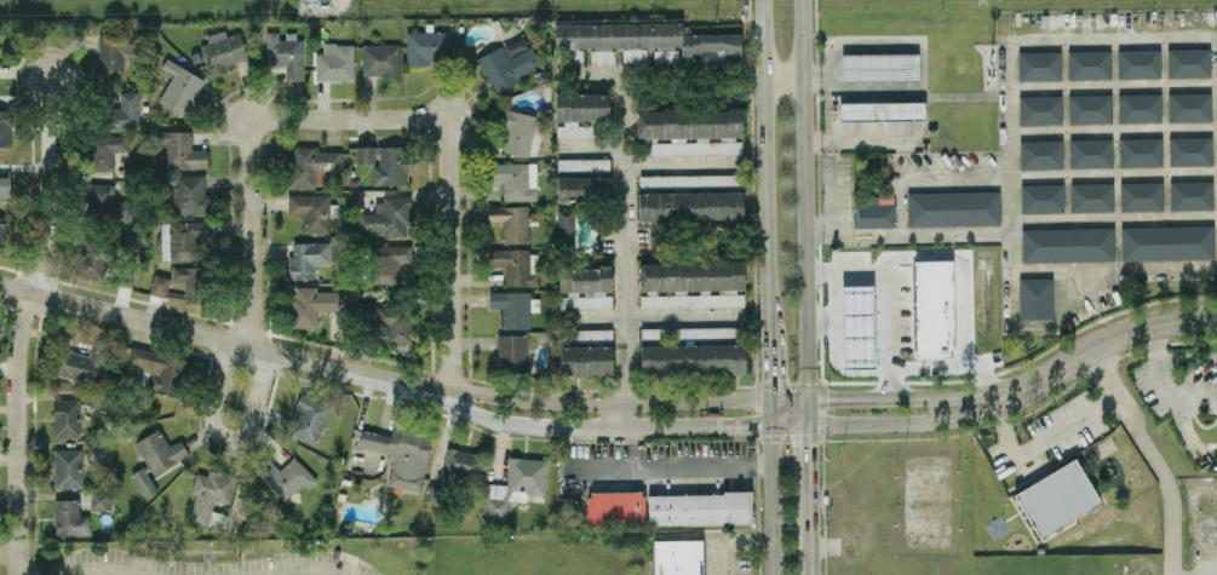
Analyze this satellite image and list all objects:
power tower: (983, 0)
power tower: (305, 1)
building: (648, 39)
building: (426, 46)
building: (116, 47)
building: (222, 50)
building: (286, 53)
building: (602, 56)
building: (380, 59)
building: (334, 62)
building: (507, 62)
building: (1188, 63)
building: (1137, 64)
building: (1037, 65)
building: (1090, 65)
building: (880, 67)
road: (659, 74)
road: (781, 77)
building: (179, 86)
road: (1113, 86)
building: (581, 105)
building: (1189, 105)
building: (1138, 108)
building: (883, 109)
building: (1089, 109)
building: (126, 110)
building: (1040, 111)
building: (5, 127)
building: (575, 128)
building: (691, 130)
building: (931, 130)
road: (1113, 130)
building: (516, 132)
road: (1009, 132)
road: (247, 139)
road: (589, 148)
building: (104, 150)
building: (182, 150)
building: (1190, 150)
building: (1141, 151)
building: (1090, 153)
building: (364, 154)
building: (1039, 154)
building: (582, 163)
road: (679, 163)
building: (311, 166)
building: (391, 166)
road: (762, 168)
road: (1056, 174)
building: (513, 178)
building: (685, 180)
building: (5, 186)
building: (584, 188)
building: (188, 194)
building: (1193, 195)
building: (1142, 196)
building: (885, 197)
building: (1041, 197)
building: (1092, 197)
road: (804, 200)
road: (837, 200)
building: (108, 203)
building: (690, 206)
road: (897, 207)
building: (954, 208)
building: (312, 211)
building: (874, 214)
building: (385, 217)
road: (1113, 218)
building: (511, 220)
road: (821, 223)
building: (564, 225)
building: (1, 229)
road: (923, 236)
building: (185, 240)
building: (1167, 242)
building: (1067, 243)
road: (624, 251)
building: (308, 257)
building: (93, 259)
road: (448, 259)
building: (388, 261)
road: (961, 269)
road: (1114, 270)
building: (186, 278)
building: (691, 283)
building: (159, 284)
building: (584, 286)
road: (888, 298)
building: (1037, 298)
building: (312, 304)
building: (513, 306)
building: (934, 309)
road: (647, 316)
road: (22, 323)
building: (392, 323)
building: (857, 326)
building: (585, 334)
road: (1123, 335)
road: (223, 340)
building: (510, 352)
road: (1187, 355)
building: (693, 357)
building: (586, 360)
building: (84, 363)
road: (952, 367)
building: (157, 368)
road: (768, 369)
road: (1192, 392)
road: (1166, 393)
road: (923, 397)
building: (98, 399)
road: (788, 401)
traffic signals: (809, 401)
traffic signals: (769, 402)
road: (608, 403)
road: (809, 414)
road: (769, 415)
building: (65, 416)
building: (309, 418)
road: (908, 422)
road: (535, 425)
road: (700, 429)
traffic signals: (809, 429)
traffic signals: (770, 430)
road: (224, 436)
road: (1045, 442)
building: (401, 453)
road: (1152, 455)
building: (155, 459)
building: (463, 464)
road: (809, 465)
road: (689, 467)
building: (67, 468)
building: (286, 477)
building: (517, 483)
building: (341, 496)
building: (1057, 498)
building: (101, 500)
road: (770, 502)
building: (615, 508)
building: (700, 508)
building: (69, 518)
road: (810, 539)
road: (735, 542)
road: (8, 553)
building: (678, 557)
road: (312, 559)
road: (93, 565)

